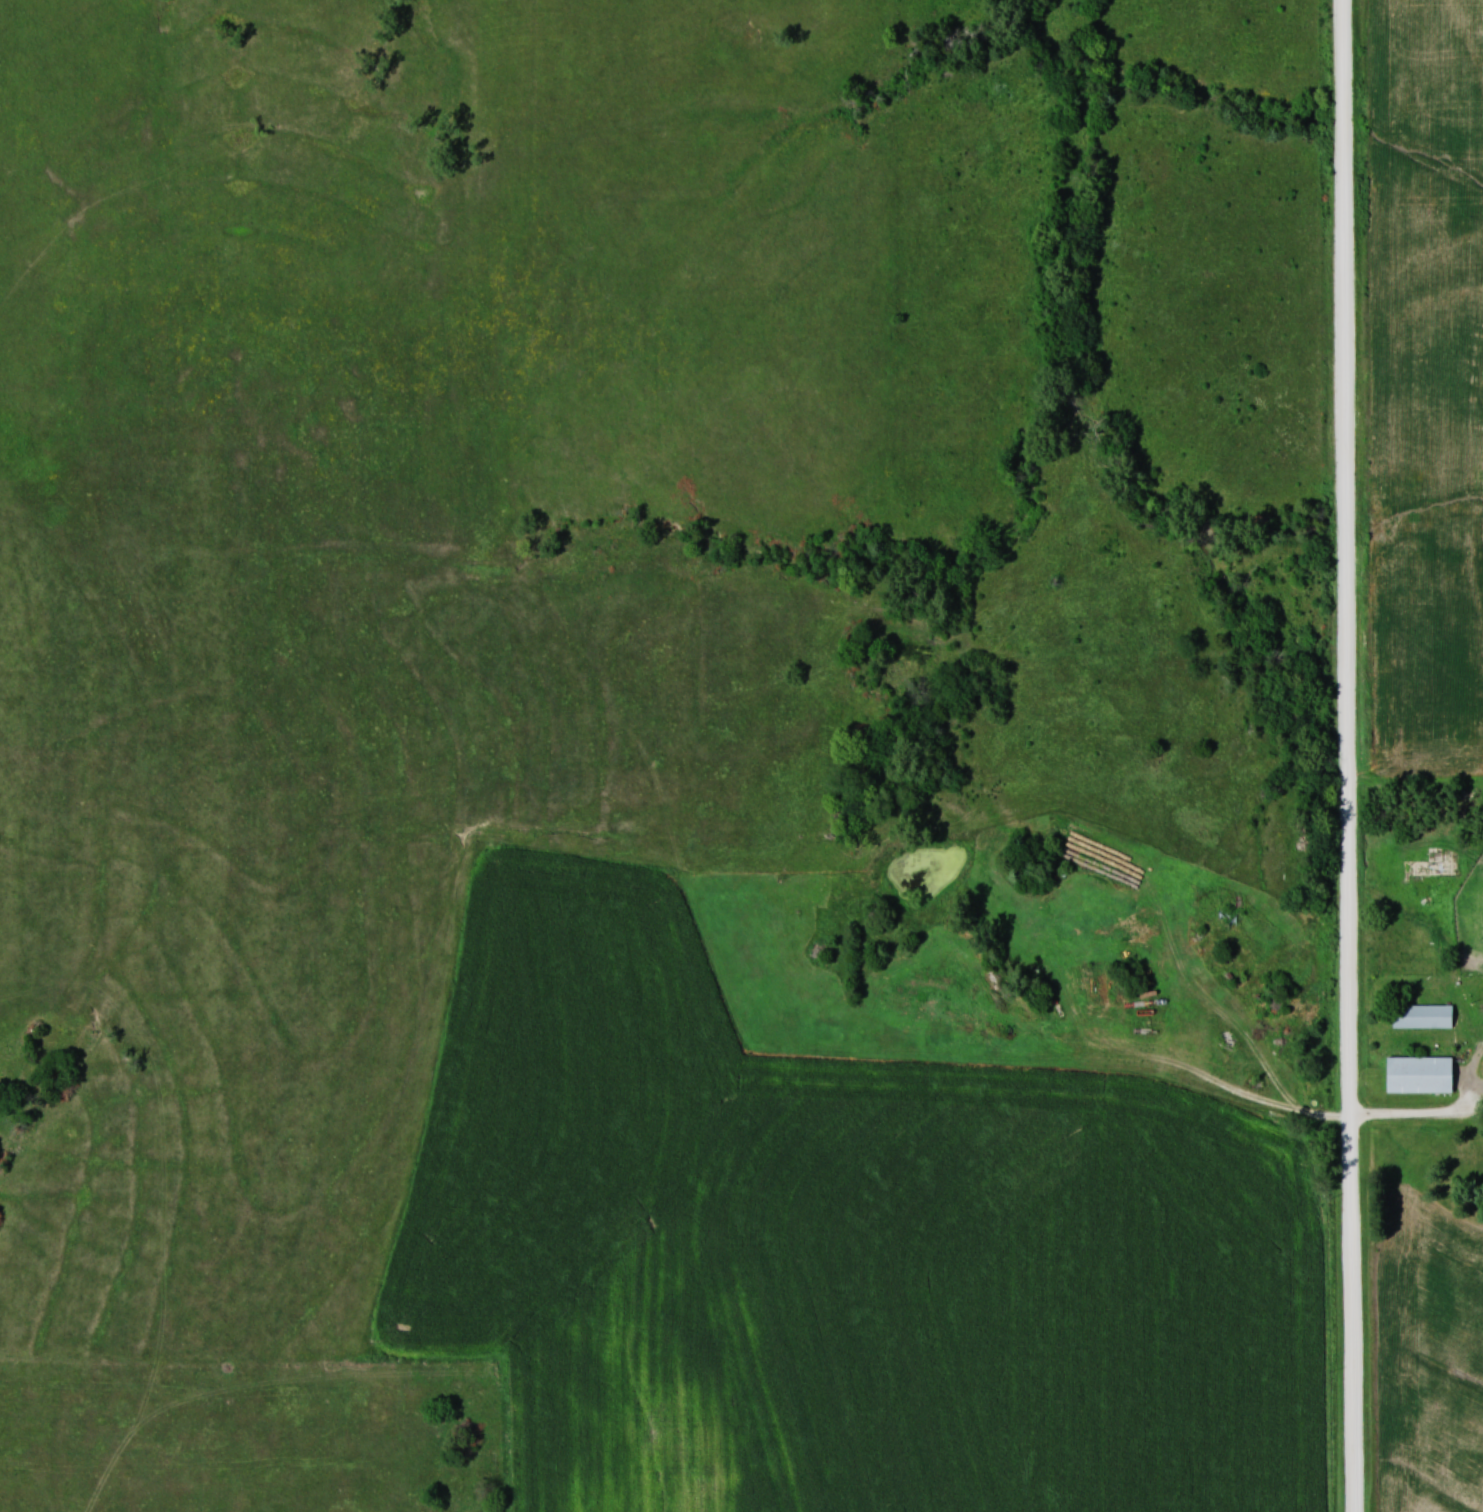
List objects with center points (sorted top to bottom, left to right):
road: (1349, 756)
building: (1424, 1016)
building: (1422, 1075)
road: (1286, 1107)

